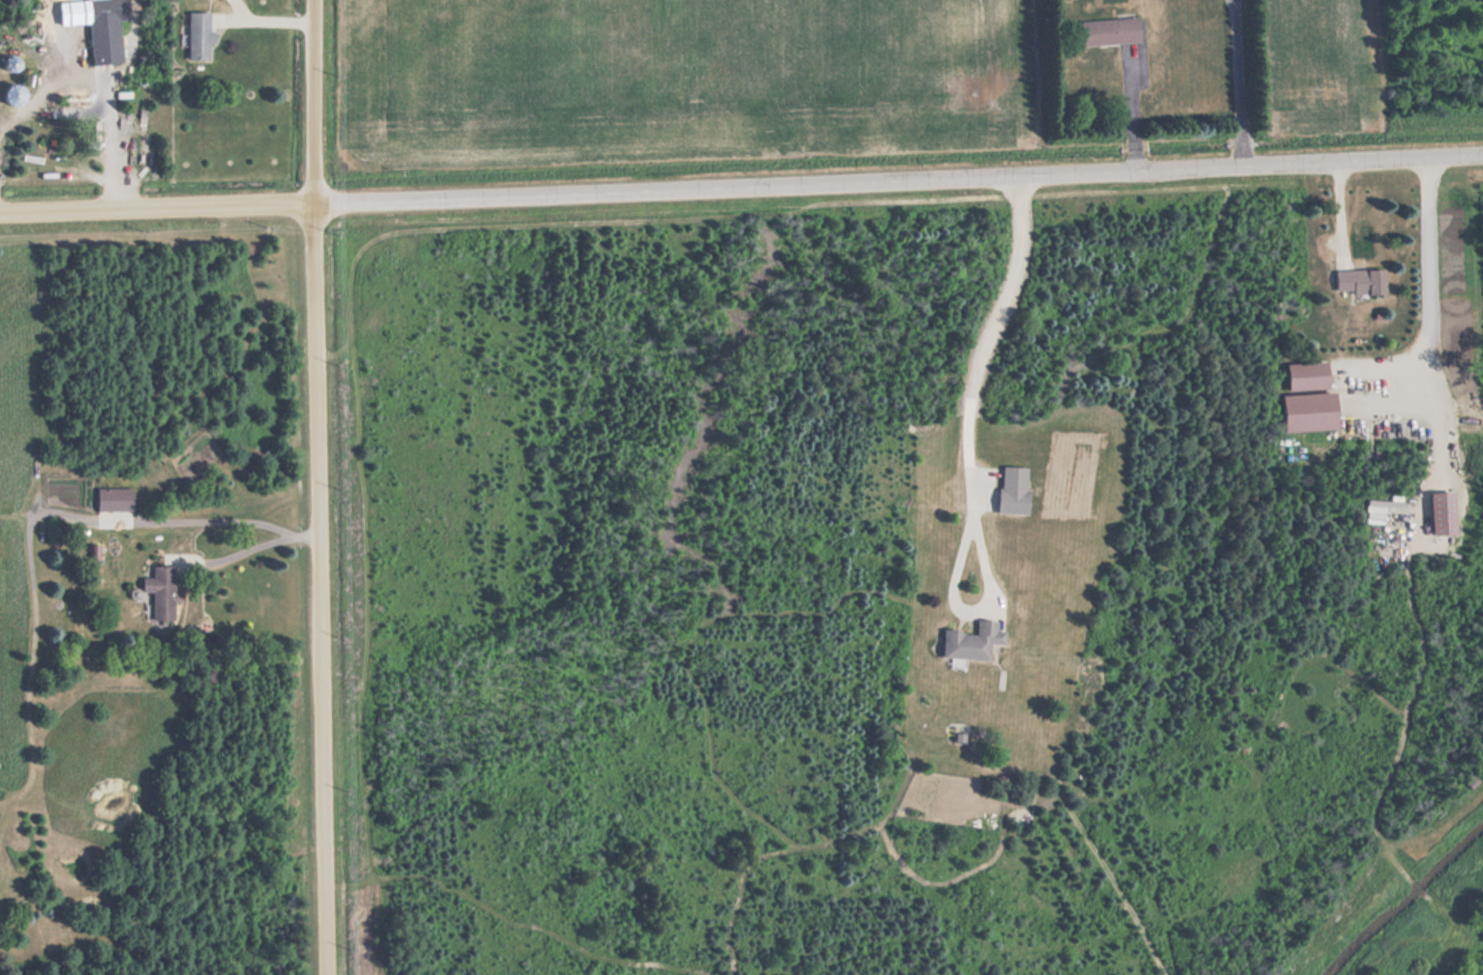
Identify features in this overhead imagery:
building: (93, 0)
building: (1104, 31)
building: (193, 36)
road: (307, 103)
road: (895, 180)
road: (153, 211)
building: (1355, 280)
building: (1301, 376)
building: (1008, 490)
building: (109, 499)
building: (90, 552)
building: (156, 591)
road: (313, 591)
building: (967, 641)

